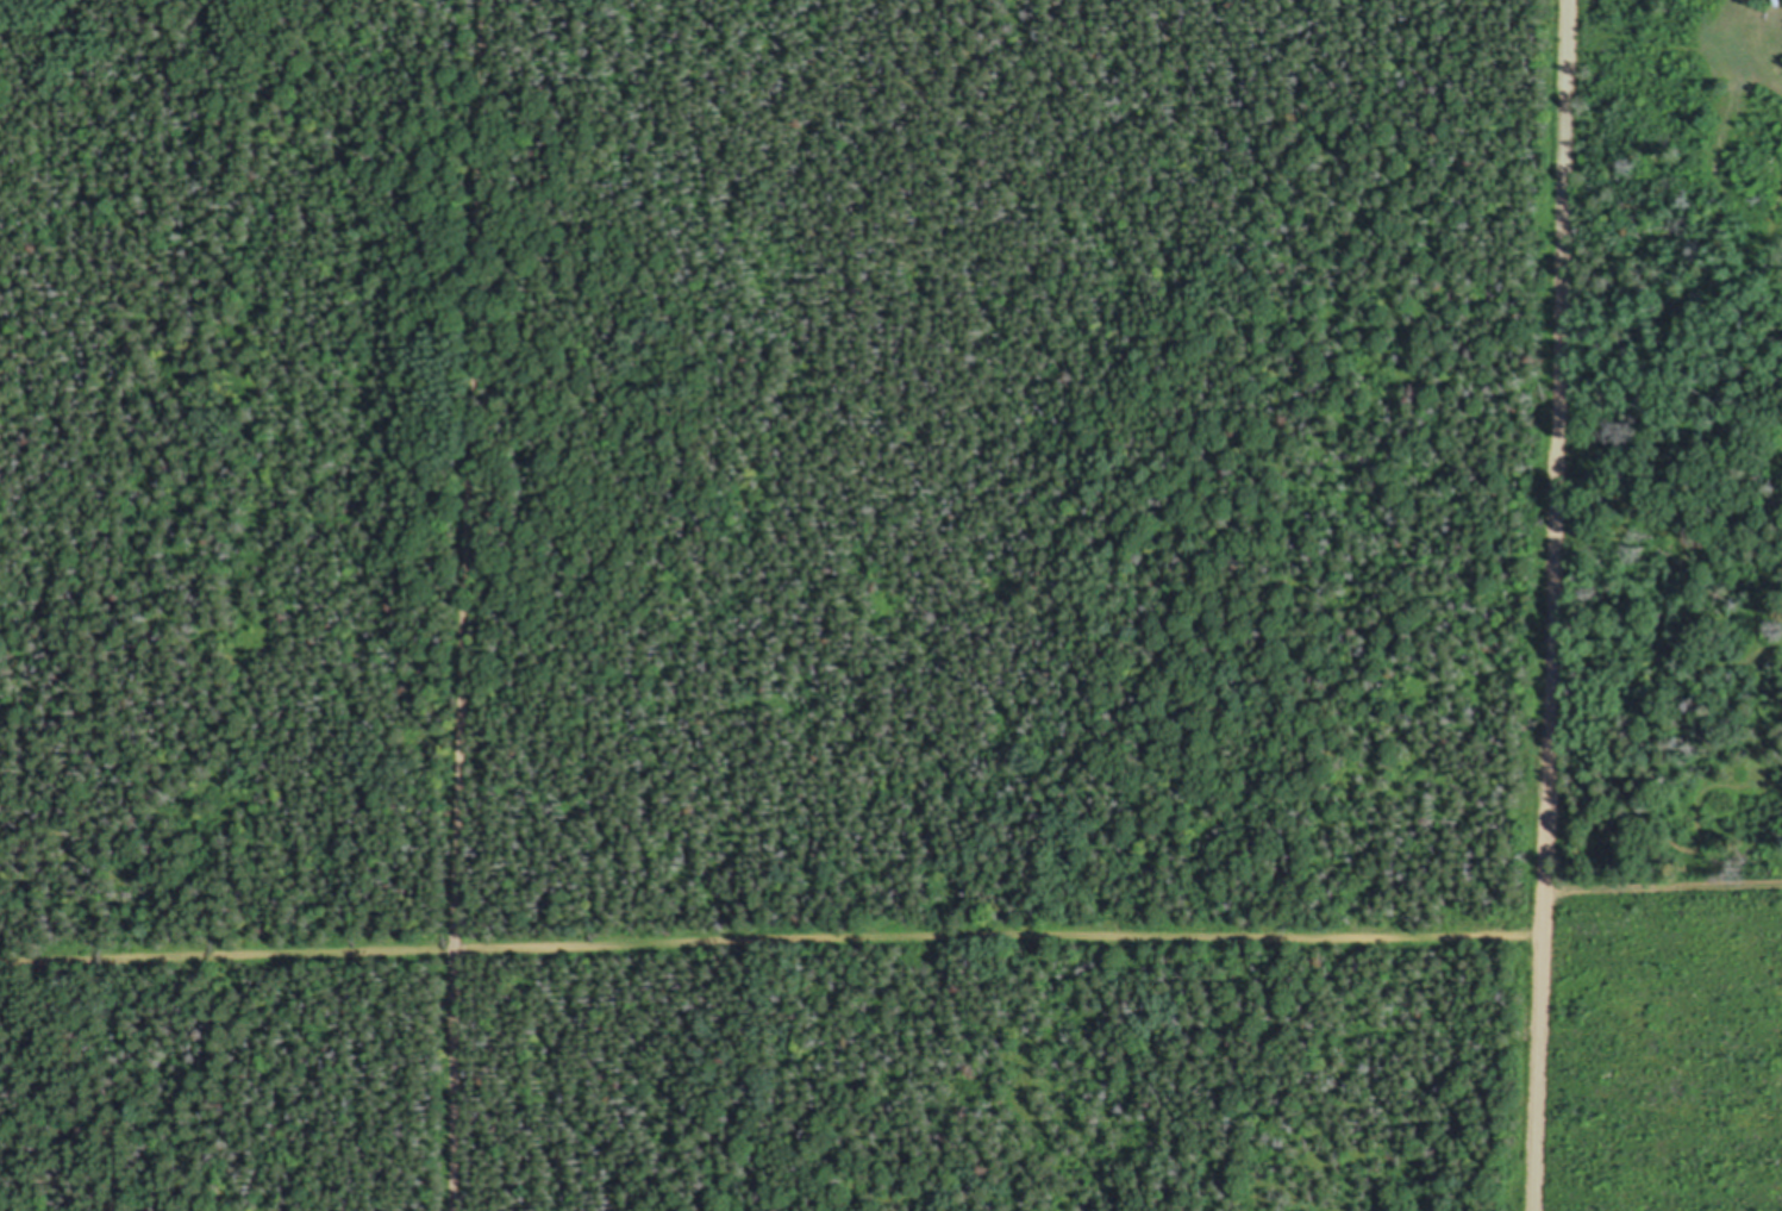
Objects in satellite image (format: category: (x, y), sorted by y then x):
road: (1777, 36)
road: (464, 605)
road: (1552, 605)
road: (1663, 886)
road: (771, 941)

